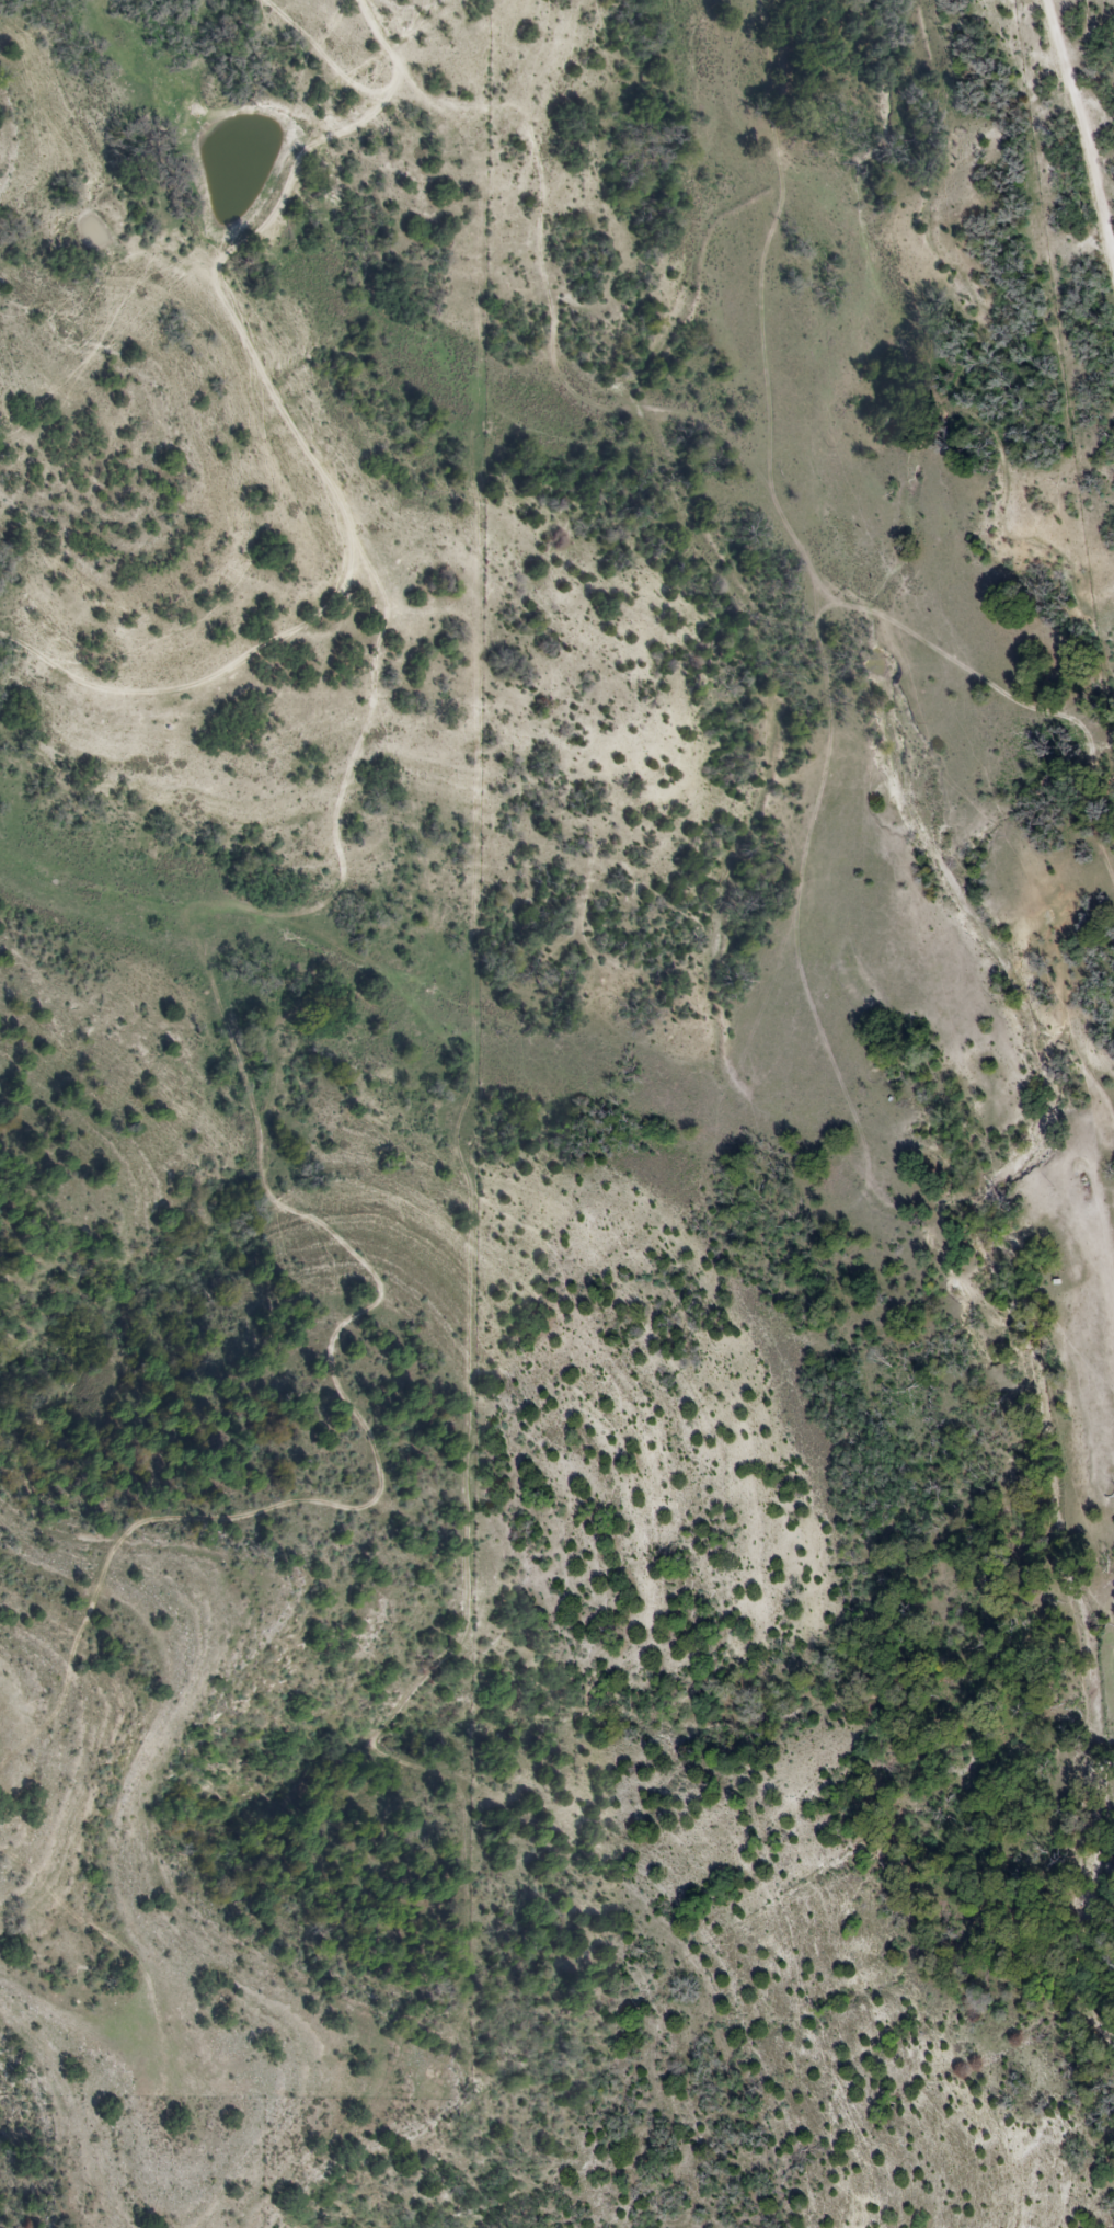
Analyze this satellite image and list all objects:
road: (1092, 84)

